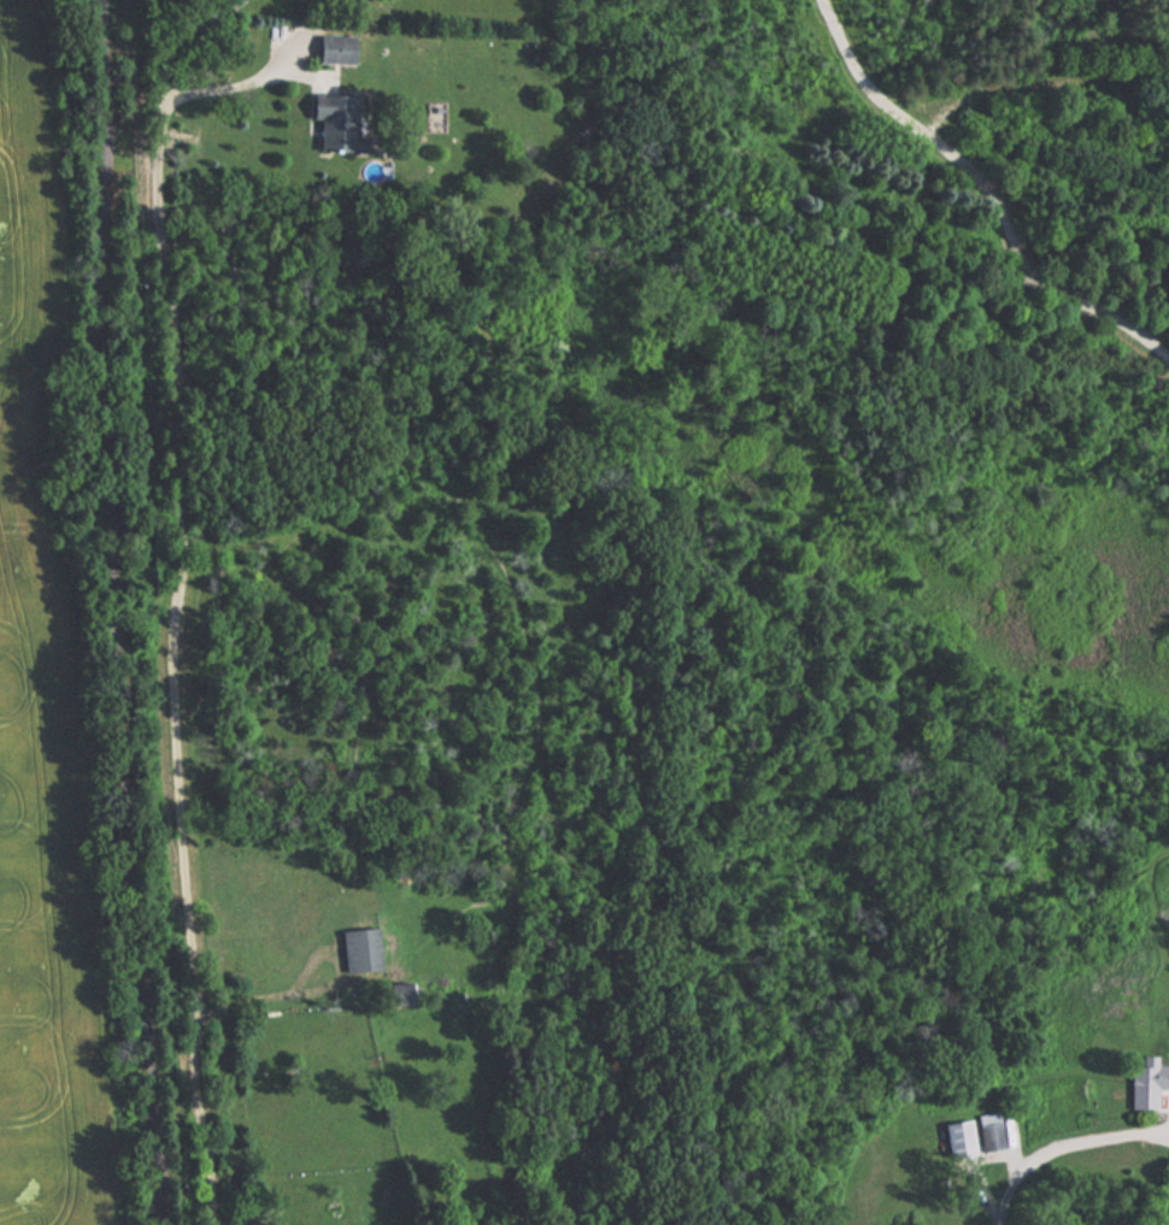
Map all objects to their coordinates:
building: (336, 47)
road: (229, 87)
building: (335, 118)
road: (991, 193)
road: (174, 594)
road: (111, 613)
building: (360, 949)
road: (269, 990)
building: (1146, 1084)
building: (992, 1136)
building: (958, 1138)
road: (1061, 1144)

